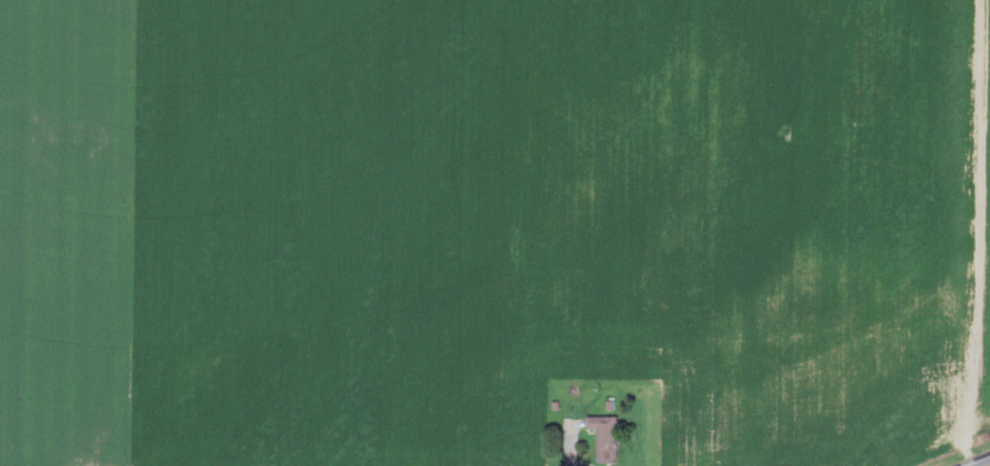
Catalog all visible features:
road: (568, 429)

